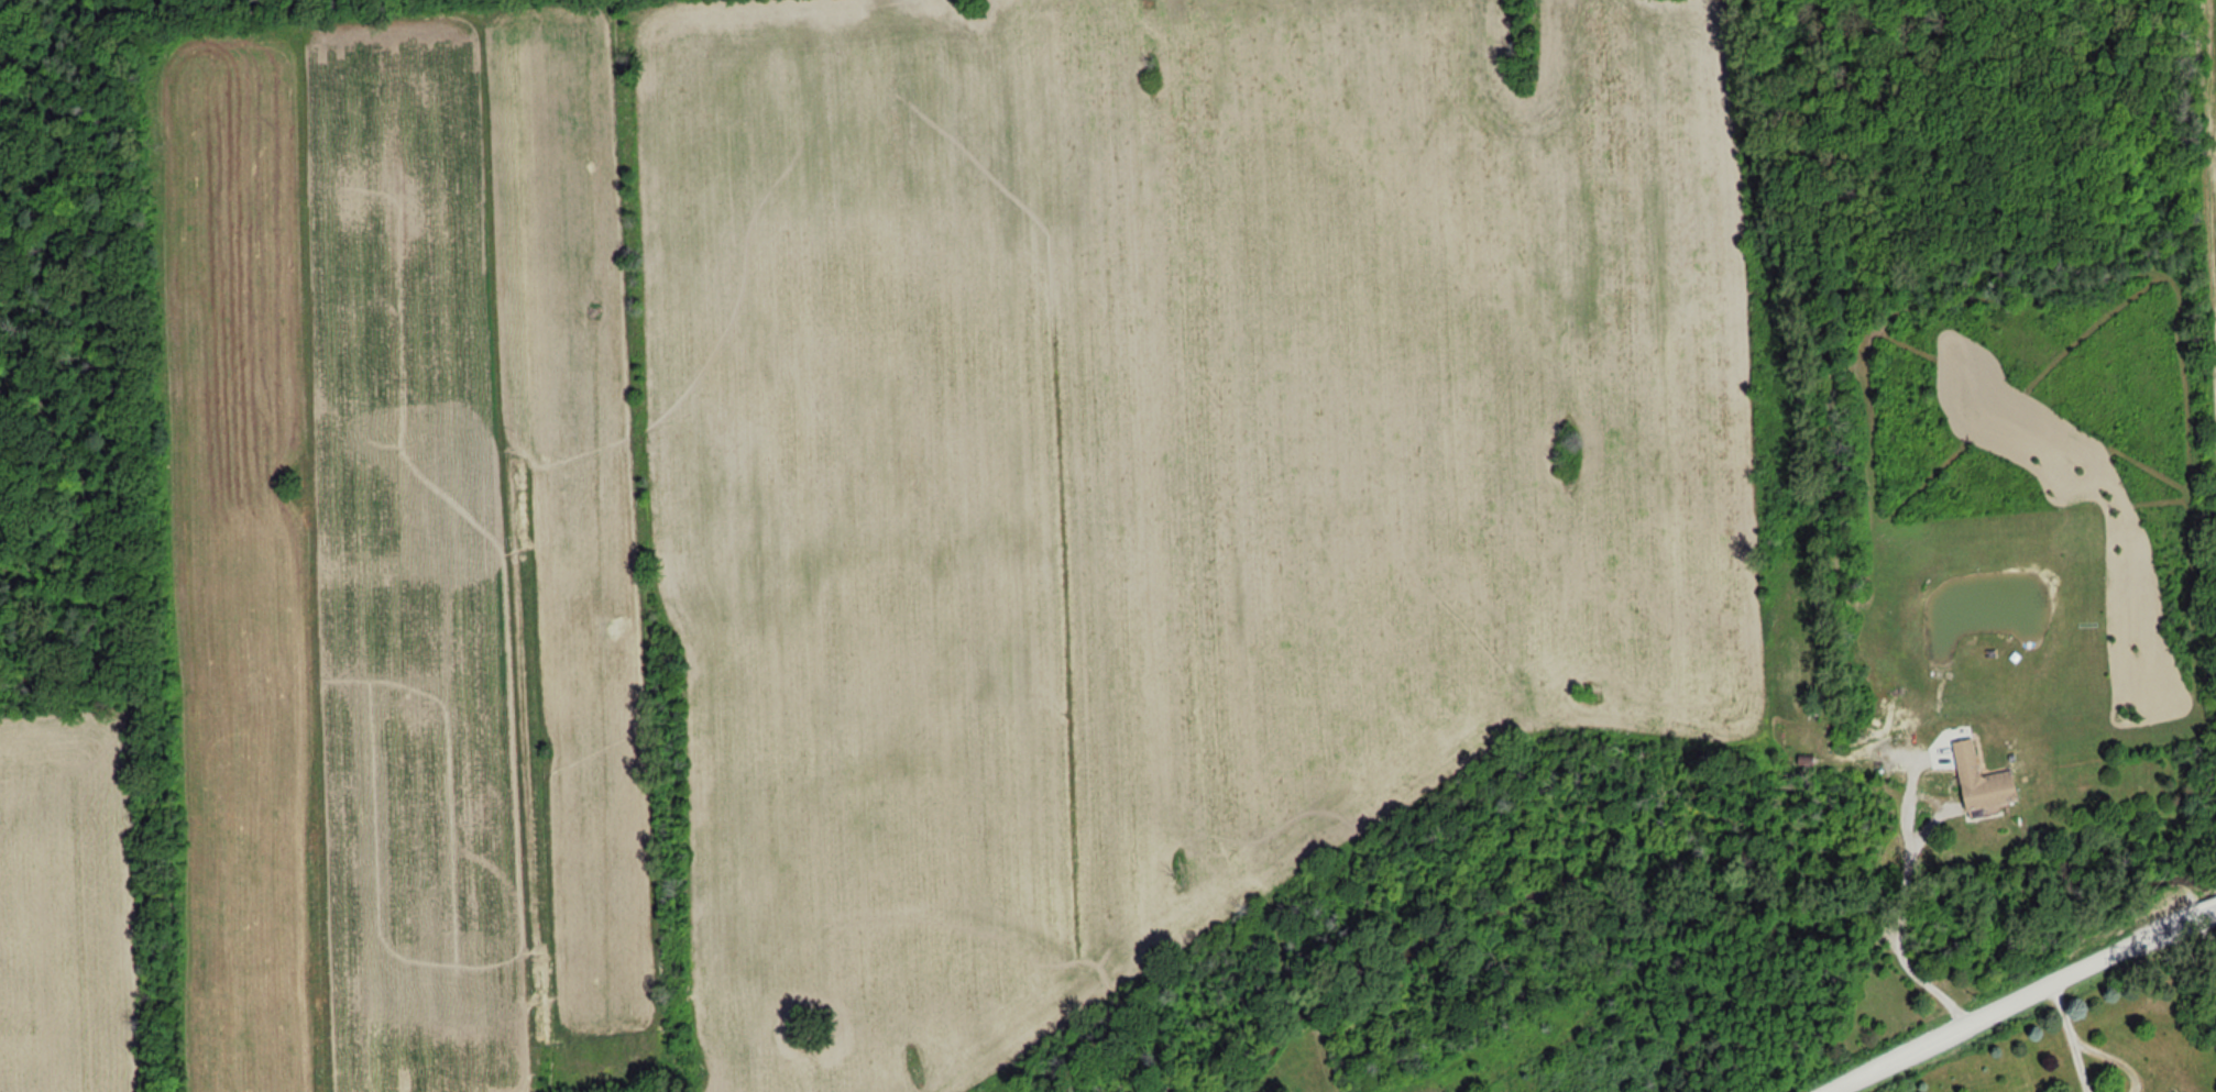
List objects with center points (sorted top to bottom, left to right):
building: (1981, 780)
road: (1898, 924)
road: (2027, 1001)
road: (2071, 1040)

